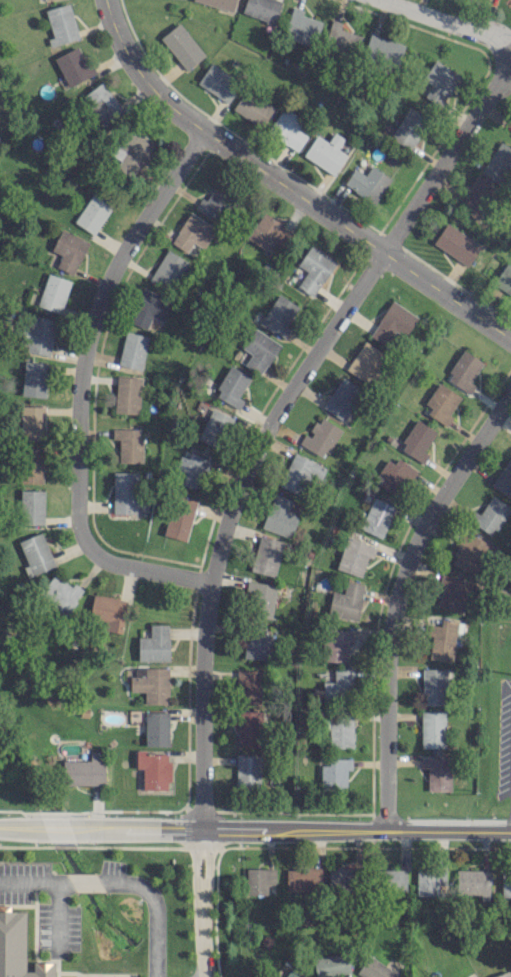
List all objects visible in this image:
building: (220, 3)
building: (261, 9)
road: (442, 21)
building: (60, 24)
building: (302, 26)
building: (342, 37)
building: (181, 45)
building: (383, 49)
building: (73, 65)
building: (438, 81)
building: (218, 82)
building: (100, 101)
building: (252, 107)
building: (407, 128)
building: (288, 129)
building: (131, 150)
building: (325, 152)
building: (497, 161)
building: (367, 183)
road: (286, 188)
building: (475, 197)
building: (215, 203)
building: (93, 212)
building: (267, 231)
building: (192, 232)
building: (456, 243)
building: (68, 250)
building: (167, 269)
building: (313, 269)
building: (504, 279)
building: (53, 292)
building: (148, 308)
building: (279, 315)
building: (392, 325)
building: (39, 335)
building: (132, 349)
building: (258, 350)
building: (365, 361)
building: (463, 371)
building: (34, 378)
building: (231, 386)
road: (77, 388)
building: (127, 394)
building: (341, 398)
building: (441, 403)
road: (275, 413)
building: (33, 422)
building: (214, 427)
building: (320, 437)
building: (417, 440)
building: (128, 444)
building: (31, 464)
building: (191, 470)
building: (299, 471)
building: (394, 475)
building: (124, 492)
building: (32, 506)
building: (489, 515)
building: (279, 516)
building: (376, 516)
building: (179, 517)
building: (35, 553)
building: (469, 553)
building: (266, 555)
building: (354, 555)
building: (60, 593)
building: (452, 593)
road: (395, 597)
building: (259, 599)
building: (346, 601)
building: (108, 611)
building: (443, 638)
building: (256, 641)
building: (154, 644)
building: (336, 644)
building: (151, 683)
building: (338, 685)
building: (247, 686)
building: (433, 686)
building: (156, 728)
building: (248, 728)
building: (432, 729)
building: (340, 730)
building: (153, 769)
building: (84, 770)
building: (247, 770)
building: (437, 772)
building: (334, 773)
road: (34, 824)
road: (289, 829)
building: (341, 877)
building: (302, 878)
building: (258, 879)
building: (389, 879)
road: (34, 880)
road: (84, 880)
building: (429, 880)
building: (505, 884)
road: (203, 902)
road: (154, 908)
road: (57, 915)
building: (17, 948)
building: (330, 964)
building: (374, 969)
building: (291, 974)
building: (502, 974)

